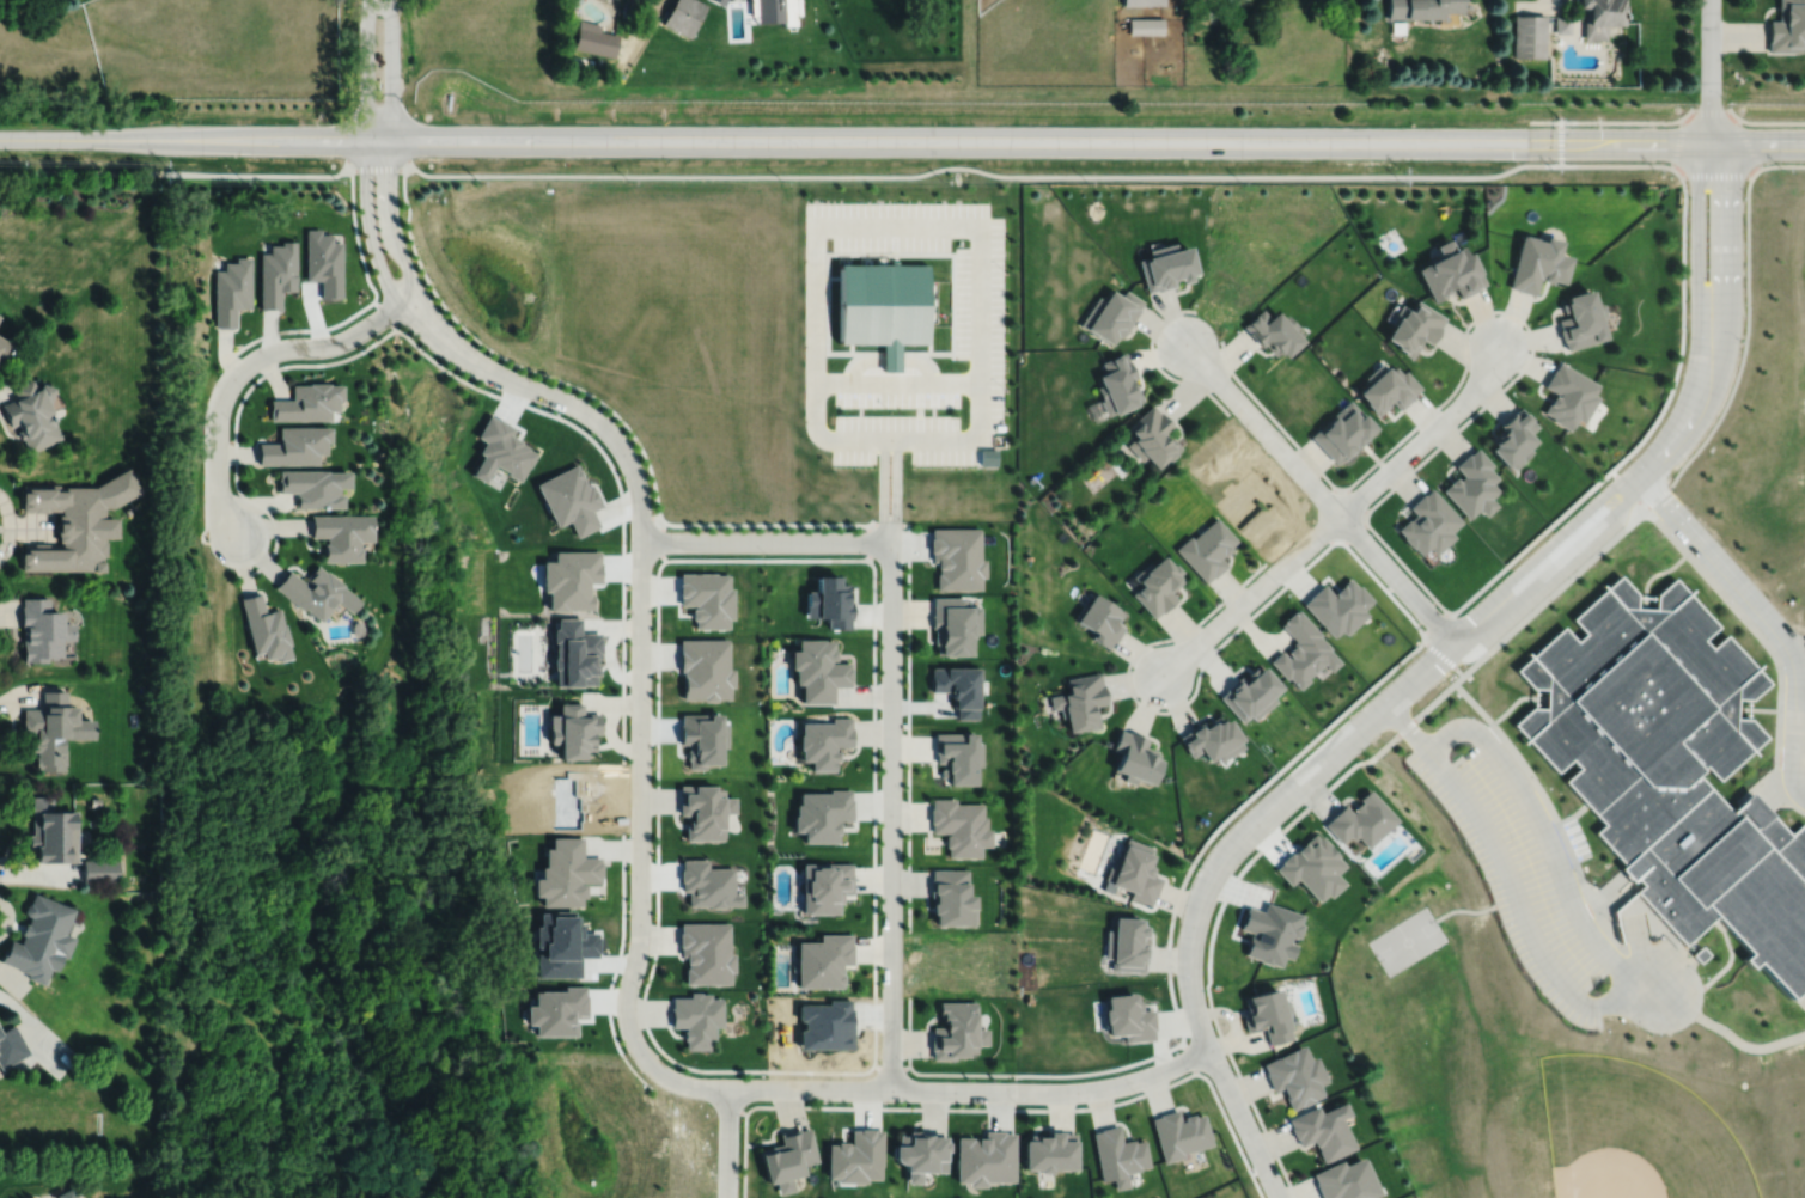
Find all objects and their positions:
building: (721, 0)
building: (1141, 1)
building: (1421, 7)
building: (778, 8)
building: (1212, 8)
building: (684, 14)
building: (1599, 16)
street lamp: (378, 17)
building: (1145, 24)
building: (1562, 24)
building: (1787, 26)
building: (1530, 36)
building: (593, 37)
road: (366, 68)
road: (391, 68)
road: (1709, 72)
street lamp: (1691, 99)
street lamp: (1726, 100)
street lamp: (378, 102)
road: (1714, 110)
road: (1688, 111)
road: (1604, 121)
road: (1767, 121)
road: (902, 140)
road: (1560, 142)
road: (1677, 145)
road: (1742, 171)
road: (840, 175)
street lamp: (397, 188)
street lamp: (358, 190)
street lamp: (1689, 196)
street lamp: (1743, 197)
street lamp: (867, 200)
road: (958, 224)
park: (1390, 240)
road: (397, 244)
road: (376, 252)
road: (941, 253)
building: (1537, 263)
building: (324, 264)
building: (1166, 267)
building: (1450, 271)
road: (1697, 271)
street lamp: (1006, 273)
road: (1728, 273)
building: (278, 274)
building: (233, 291)
building: (883, 307)
road: (1487, 311)
building: (1111, 316)
building: (1580, 320)
parking lot: (978, 325)
building: (1414, 326)
building: (1274, 332)
street lamp: (300, 335)
street lamp: (1688, 336)
road: (929, 338)
street lamp: (1218, 338)
street lamp: (1740, 341)
road: (852, 347)
building: (4, 348)
road: (840, 352)
street lamp: (439, 359)
road: (928, 359)
road: (890, 361)
road: (250, 362)
road: (1158, 366)
road: (897, 381)
street lamp: (1505, 381)
building: (1117, 386)
building: (1389, 389)
street lamp: (1006, 390)
building: (1568, 397)
building: (307, 403)
road: (581, 407)
street lamp: (890, 411)
street lamp: (567, 414)
building: (32, 415)
building: (1343, 432)
street lamp: (1252, 436)
building: (1152, 438)
building: (1513, 438)
building: (295, 447)
street lamp: (1397, 447)
building: (499, 450)
street lamp: (1630, 460)
road: (1683, 466)
building: (1471, 482)
building: (315, 485)
road: (1321, 493)
building: (1245, 495)
building: (571, 500)
road: (1340, 514)
building: (75, 520)
street lamp: (903, 521)
building: (1428, 521)
street lamp: (1370, 530)
building: (343, 532)
street lamp: (1661, 534)
street lamp: (206, 536)
street lamp: (1547, 538)
street lamp: (629, 540)
road: (766, 540)
building: (1208, 548)
street lamp: (767, 554)
building: (957, 556)
building: (572, 580)
building: (1157, 582)
street lamp: (1280, 585)
building: (318, 589)
road: (1743, 589)
building: (706, 598)
road: (909, 600)
building: (1340, 604)
building: (833, 605)
street lamp: (1465, 610)
building: (1100, 618)
building: (953, 623)
road: (1751, 624)
building: (266, 626)
building: (43, 628)
street lamp: (880, 636)
street lamp: (1166, 642)
road: (1220, 642)
building: (1304, 649)
building: (574, 652)
building: (706, 667)
building: (819, 667)
building: (958, 686)
building: (1252, 692)
street lamp: (1376, 692)
street lamp: (1451, 692)
building: (1081, 699)
street lamp: (652, 704)
street lamp: (1464, 715)
road: (1792, 720)
building: (53, 727)
road: (1798, 727)
building: (573, 728)
road: (1319, 734)
building: (1213, 738)
building: (825, 740)
building: (703, 744)
road: (1511, 748)
building: (958, 754)
building: (1135, 756)
road: (1330, 756)
road: (1793, 762)
road: (1352, 766)
building: (1672, 768)
street lamp: (1410, 769)
street lamp: (1281, 777)
street lamp: (1543, 786)
street lamp: (903, 791)
building: (93, 801)
building: (577, 801)
building: (705, 809)
building: (823, 813)
road: (892, 814)
road: (1573, 814)
building: (1362, 819)
building: (961, 825)
building: (51, 831)
street lamp: (627, 836)
street lamp: (1464, 841)
road: (640, 848)
parking lot: (1522, 861)
road: (1574, 863)
street lamp: (1197, 866)
building: (1315, 867)
building: (100, 869)
building: (1135, 870)
building: (566, 873)
street lamp: (1587, 879)
building: (707, 884)
building: (827, 886)
road: (1608, 888)
building: (951, 897)
street lamp: (1611, 922)
street lamp: (1500, 923)
street lamp: (882, 925)
building: (1267, 930)
road: (1605, 931)
building: (41, 939)
park: (1407, 940)
building: (1127, 945)
building: (565, 949)
building: (707, 952)
building: (824, 960)
street lamp: (1175, 974)
street lamp: (1701, 976)
street lamp: (640, 988)
street lamp: (1547, 1000)
road: (1605, 1003)
building: (555, 1010)
building: (1268, 1015)
building: (697, 1017)
building: (1128, 1017)
road: (642, 1019)
building: (825, 1027)
road: (1218, 1028)
building: (957, 1031)
street lamp: (1649, 1033)
building: (11, 1046)
road: (1189, 1056)
street lamp: (903, 1063)
road: (890, 1069)
street lamp: (1233, 1071)
street lamp: (768, 1076)
building: (1297, 1076)
road: (972, 1089)
street lamp: (1136, 1093)
street lamp: (1018, 1104)
road: (1001, 1107)
building: (1324, 1131)
building: (1179, 1135)
park: (1626, 1136)
park: (1794, 1138)
road: (726, 1142)
building: (1050, 1153)
building: (921, 1154)
building: (1118, 1155)
building: (858, 1157)
building: (986, 1157)
building: (789, 1159)
building: (1346, 1180)
building: (68, 1192)

